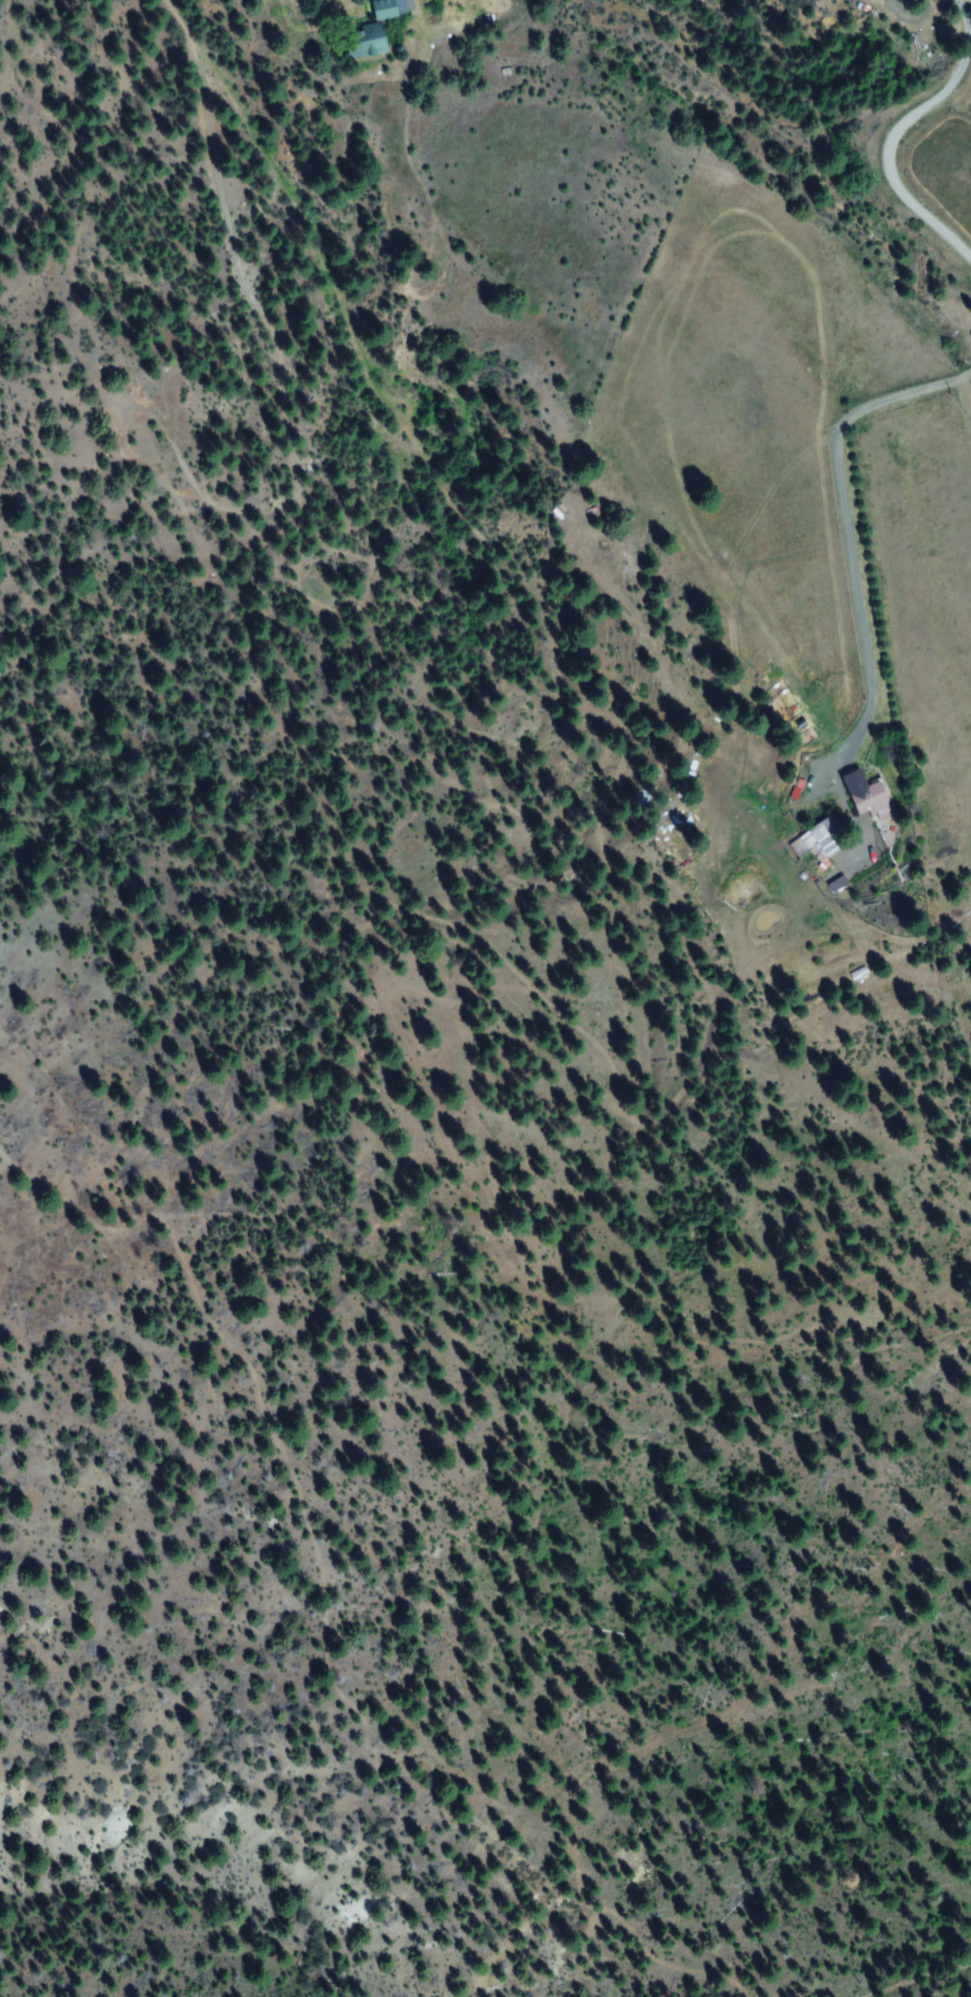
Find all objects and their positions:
building: (383, 9)
building: (361, 41)
road: (896, 131)
road: (896, 538)
building: (866, 799)
building: (836, 883)
mineshaft: (614, 1850)
mineshaft: (542, 1964)

